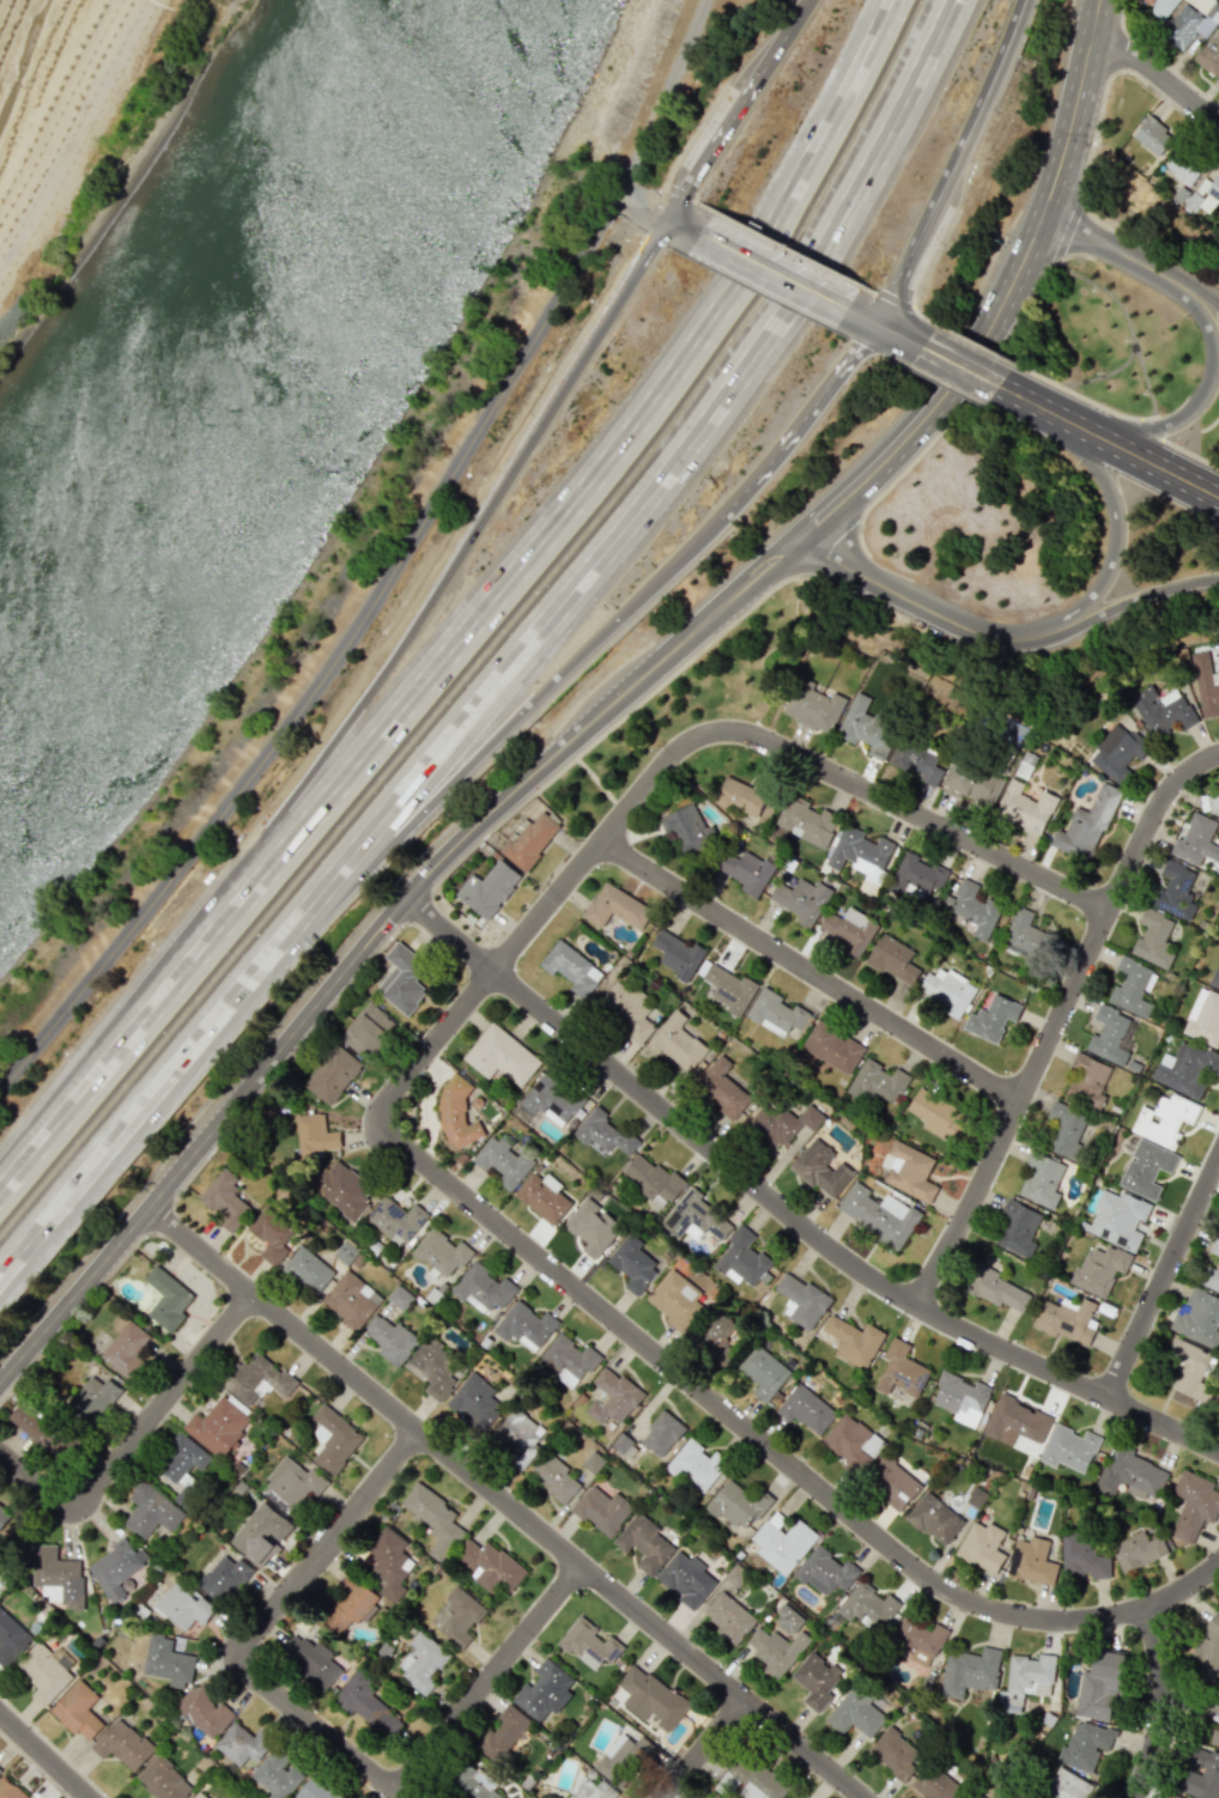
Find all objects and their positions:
building: (1147, 1)
building: (1162, 7)
building: (1191, 22)
building: (1209, 54)
road: (1154, 73)
road: (739, 110)
road: (1067, 130)
building: (1153, 135)
road: (952, 164)
building: (1184, 166)
building: (1203, 192)
road: (638, 208)
road: (681, 225)
road: (1065, 232)
road: (1109, 247)
road: (772, 269)
road: (1200, 285)
road: (1120, 306)
road: (861, 316)
road: (595, 330)
road: (898, 335)
road: (959, 365)
road: (1097, 376)
river: (230, 381)
road: (1063, 387)
road: (1195, 401)
road: (1035, 402)
road: (800, 423)
road: (1148, 426)
road: (1197, 429)
road: (1189, 451)
road: (1145, 458)
road: (623, 521)
street lamp: (862, 523)
road: (1116, 527)
road: (394, 569)
road: (1139, 595)
road: (924, 606)
road: (479, 619)
building: (1206, 685)
building: (813, 707)
building: (1162, 710)
road: (350, 715)
building: (865, 723)
building: (1116, 754)
road: (675, 757)
road: (475, 759)
building: (916, 760)
building: (970, 782)
building: (745, 796)
building: (1209, 803)
road: (503, 806)
building: (1024, 808)
building: (805, 821)
building: (1086, 825)
building: (687, 828)
building: (530, 839)
building: (1196, 840)
building: (857, 851)
building: (746, 870)
building: (920, 874)
building: (490, 887)
building: (1175, 889)
building: (801, 900)
building: (617, 907)
building: (972, 911)
building: (849, 930)
building: (1024, 936)
building: (1153, 937)
building: (677, 954)
building: (892, 960)
building: (571, 968)
road: (812, 971)
building: (401, 979)
building: (1215, 979)
building: (1132, 988)
building: (729, 989)
building: (947, 990)
building: (627, 1010)
building: (775, 1013)
building: (991, 1018)
building: (1203, 1018)
road: (1057, 1019)
building: (368, 1032)
building: (1109, 1035)
building: (677, 1041)
building: (832, 1047)
building: (501, 1056)
building: (1185, 1069)
building: (330, 1074)
building: (1087, 1081)
building: (877, 1082)
building: (723, 1088)
building: (551, 1100)
building: (455, 1111)
building: (939, 1113)
building: (1164, 1118)
building: (781, 1122)
building: (602, 1132)
building: (315, 1134)
road: (114, 1135)
building: (503, 1161)
building: (820, 1168)
building: (1146, 1168)
building: (909, 1170)
building: (1042, 1179)
building: (653, 1180)
building: (344, 1190)
building: (542, 1197)
building: (225, 1199)
road: (788, 1209)
building: (879, 1214)
building: (695, 1217)
building: (1118, 1219)
building: (396, 1220)
building: (592, 1227)
building: (1017, 1228)
building: (273, 1235)
building: (1214, 1246)
building: (442, 1253)
building: (741, 1259)
building: (632, 1263)
building: (308, 1270)
building: (1099, 1270)
building: (1209, 1277)
road: (1164, 1280)
building: (484, 1289)
building: (997, 1289)
building: (400, 1298)
building: (166, 1299)
building: (351, 1299)
building: (801, 1300)
building: (675, 1301)
building: (1199, 1318)
building: (1066, 1319)
building: (526, 1326)
building: (716, 1336)
building: (392, 1340)
building: (854, 1341)
building: (126, 1348)
building: (569, 1360)
building: (900, 1369)
building: (1190, 1369)
building: (764, 1373)
building: (256, 1379)
building: (613, 1397)
building: (92, 1398)
building: (960, 1398)
building: (475, 1402)
building: (1217, 1402)
building: (805, 1409)
building: (1015, 1421)
building: (217, 1426)
building: (40, 1428)
building: (661, 1434)
building: (517, 1435)
road: (133, 1438)
building: (333, 1439)
building: (848, 1441)
building: (1069, 1448)
road: (771, 1452)
building: (181, 1459)
building: (693, 1464)
building: (1130, 1474)
building: (554, 1477)
building: (892, 1482)
building: (291, 1484)
road: (505, 1500)
building: (738, 1505)
building: (1193, 1505)
building: (150, 1511)
building: (602, 1511)
building: (4, 1514)
building: (433, 1518)
building: (934, 1519)
building: (261, 1533)
road: (328, 1542)
building: (644, 1543)
building: (783, 1543)
building: (982, 1547)
building: (1138, 1550)
building: (1082, 1557)
building: (1032, 1561)
building: (389, 1562)
building: (490, 1566)
building: (116, 1568)
building: (825, 1571)
building: (55, 1577)
building: (223, 1579)
building: (686, 1579)
building: (182, 1605)
building: (868, 1606)
building: (728, 1616)
building: (459, 1617)
building: (788, 1618)
building: (11, 1638)
building: (918, 1640)
building: (588, 1644)
building: (775, 1650)
building: (1207, 1651)
building: (310, 1660)
building: (422, 1662)
building: (168, 1663)
building: (970, 1671)
building: (43, 1674)
road: (490, 1677)
building: (1026, 1679)
building: (818, 1681)
building: (1100, 1685)
building: (544, 1690)
building: (650, 1697)
building: (368, 1705)
road: (1154, 1706)
building: (77, 1711)
building: (202, 1711)
building: (856, 1712)
building: (1213, 1721)
road: (322, 1726)
building: (503, 1732)
building: (122, 1744)
building: (241, 1744)
building: (1085, 1745)
road: (699, 1747)
building: (894, 1750)
road: (44, 1755)
building: (619, 1760)
building: (0, 1770)
building: (1201, 1773)
building: (275, 1778)
building: (163, 1779)
building: (752, 1779)
building: (936, 1784)
building: (1068, 1785)
building: (472, 1787)
building: (10, 1790)
building: (314, 1790)
building: (589, 1790)
building: (198, 1796)
building: (976, 1796)
building: (1175, 1796)

